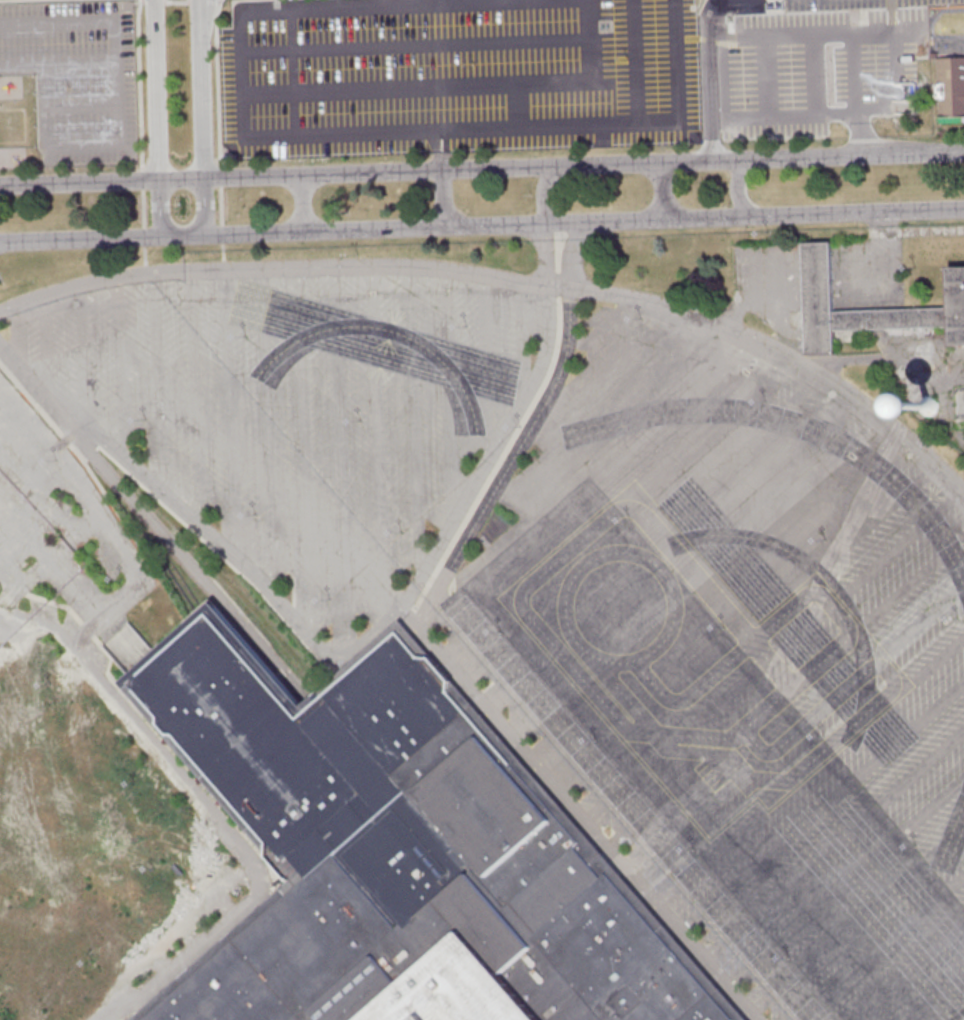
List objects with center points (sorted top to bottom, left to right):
road: (517, 0)
road: (397, 4)
road: (891, 16)
road: (814, 34)
road: (749, 41)
road: (634, 60)
road: (115, 62)
road: (855, 74)
road: (772, 75)
road: (711, 79)
building: (949, 83)
road: (457, 86)
road: (205, 89)
road: (155, 91)
road: (892, 106)
road: (806, 115)
road: (459, 127)
road: (863, 136)
road: (585, 167)
road: (183, 181)
road: (79, 185)
road: (736, 189)
road: (544, 192)
road: (663, 192)
road: (444, 200)
road: (303, 205)
road: (208, 208)
road: (160, 210)
road: (586, 223)
road: (933, 230)
road: (185, 237)
road: (80, 241)
road: (548, 254)
road: (509, 279)
building: (819, 286)
road: (17, 332)
road: (46, 346)
road: (82, 358)
road: (611, 367)
road: (119, 368)
road: (486, 368)
road: (158, 382)
road: (451, 390)
road: (194, 395)
water tower: (927, 400)
building: (929, 405)
road: (230, 413)
road: (606, 417)
road: (415, 420)
road: (269, 428)
road: (529, 431)
road: (381, 441)
road: (493, 448)
road: (305, 453)
road: (342, 459)
road: (585, 484)
road: (614, 506)
road: (203, 525)
road: (643, 530)
road: (669, 552)
road: (184, 559)
road: (695, 576)
road: (724, 604)
road: (748, 628)
road: (775, 656)
road: (787, 691)
road: (799, 730)
road: (812, 770)
road: (823, 805)
road: (582, 812)
road: (234, 835)
road: (835, 844)
building: (402, 853)
road: (847, 881)
road: (859, 919)
road: (877, 946)
road: (909, 972)
road: (936, 995)
road: (963, 1019)

